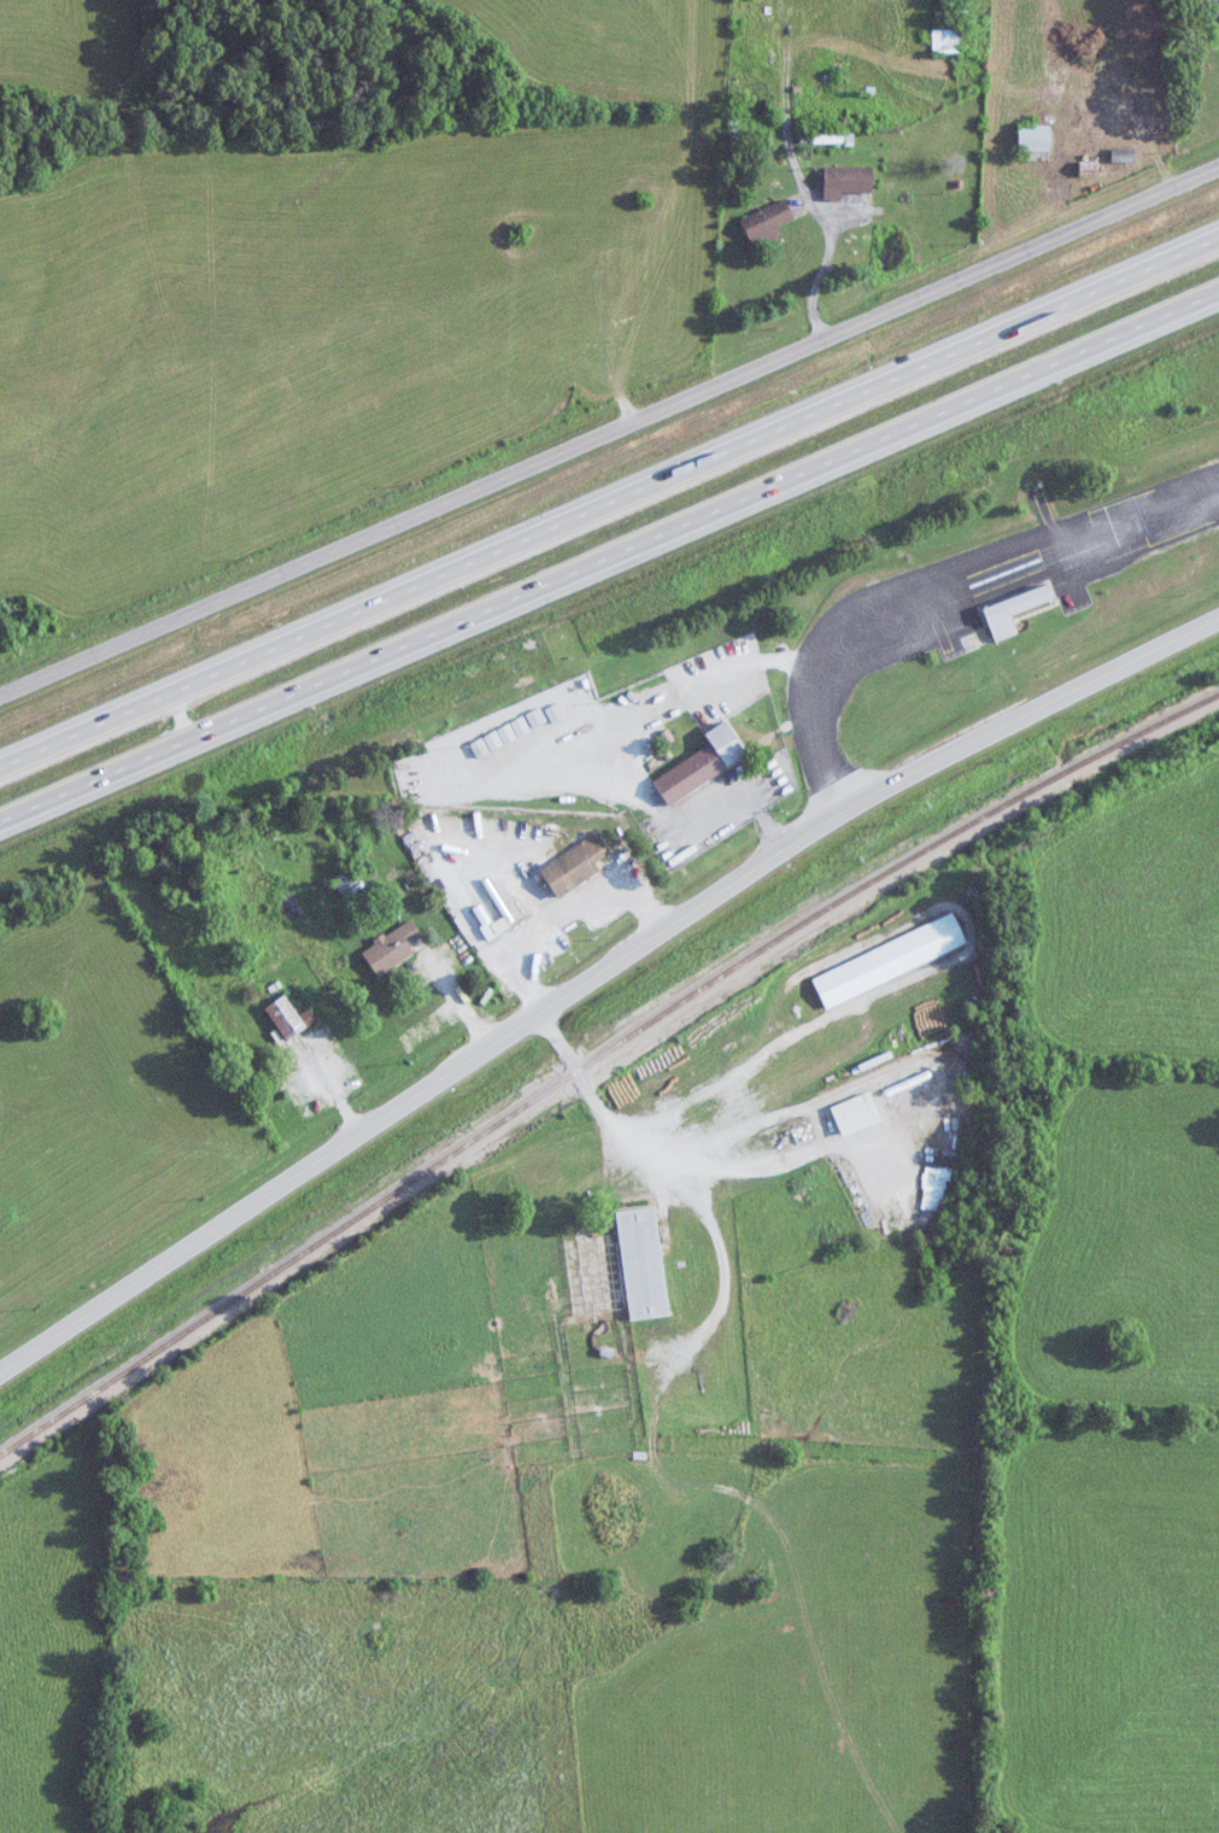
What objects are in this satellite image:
building: (1211, 8)
building: (947, 41)
building: (1033, 136)
building: (1124, 157)
building: (849, 183)
building: (767, 224)
road: (820, 273)
road: (608, 432)
road: (609, 516)
road: (609, 567)
road: (942, 580)
building: (1025, 605)
building: (545, 714)
road: (641, 733)
building: (506, 734)
building: (713, 761)
building: (586, 860)
building: (348, 883)
road: (573, 909)
crop: (1130, 932)
building: (404, 944)
building: (890, 962)
road: (596, 976)
road: (463, 996)
building: (297, 1013)
railway: (599, 1058)
road: (340, 1082)
building: (857, 1115)
road: (693, 1163)
crop: (1126, 1251)
building: (643, 1264)

